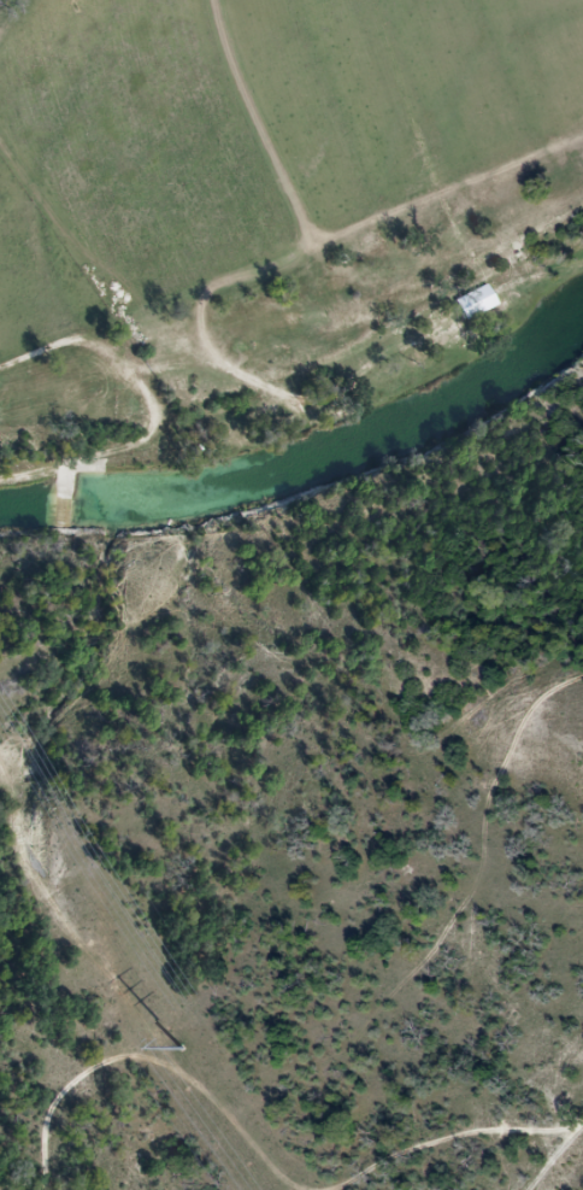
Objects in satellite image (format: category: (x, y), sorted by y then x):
power tower: (183, 1049)

